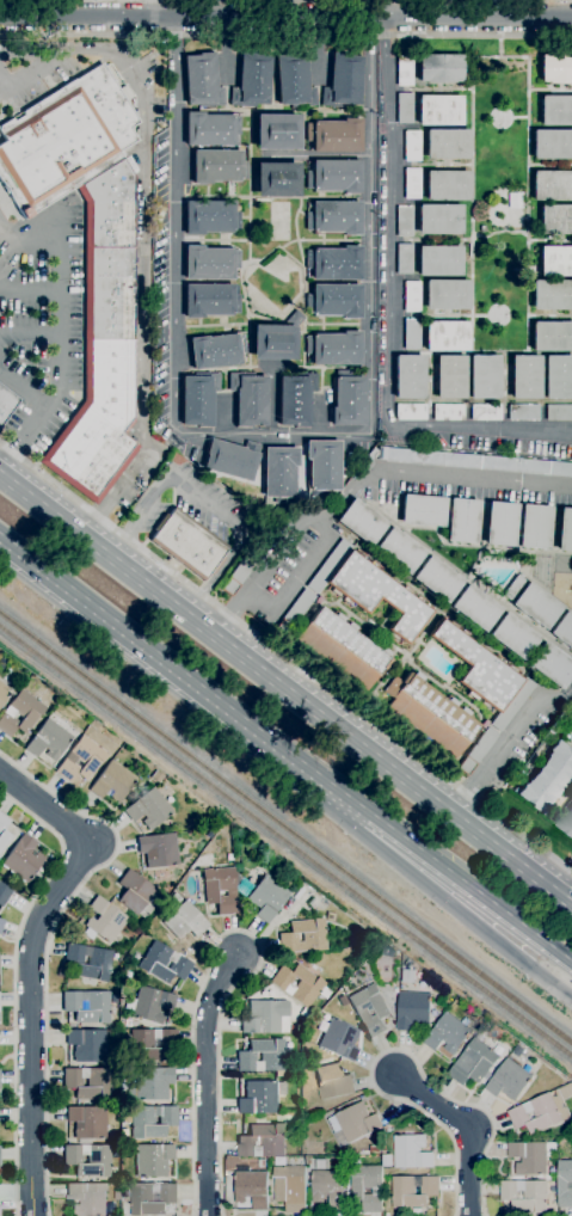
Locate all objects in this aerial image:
road: (205, 8)
road: (285, 18)
road: (285, 33)
building: (438, 68)
building: (555, 69)
building: (404, 70)
road: (30, 73)
building: (202, 81)
building: (251, 81)
building: (294, 81)
building: (343, 81)
building: (125, 93)
building: (404, 108)
building: (439, 111)
building: (555, 111)
building: (210, 129)
building: (276, 131)
building: (334, 136)
building: (63, 140)
building: (447, 145)
building: (552, 145)
building: (411, 146)
road: (316, 156)
building: (217, 166)
building: (334, 176)
building: (276, 180)
building: (411, 184)
building: (447, 185)
building: (552, 186)
building: (210, 217)
building: (334, 217)
building: (439, 220)
building: (555, 220)
building: (404, 221)
road: (370, 225)
road: (141, 239)
road: (29, 240)
building: (404, 259)
building: (439, 262)
building: (555, 262)
building: (210, 263)
building: (334, 263)
road: (30, 291)
building: (445, 295)
building: (552, 295)
building: (411, 296)
building: (209, 300)
building: (334, 301)
road: (390, 313)
parking lot: (41, 317)
road: (174, 319)
road: (30, 334)
building: (411, 334)
building: (447, 337)
building: (552, 337)
building: (275, 339)
building: (103, 342)
building: (333, 349)
building: (216, 351)
road: (60, 361)
building: (450, 376)
building: (408, 377)
building: (484, 377)
building: (525, 377)
building: (558, 377)
road: (24, 391)
building: (198, 399)
building: (248, 399)
building: (295, 399)
building: (347, 399)
building: (6, 404)
building: (411, 412)
building: (448, 412)
building: (485, 412)
building: (523, 412)
building: (559, 412)
building: (232, 459)
building: (472, 462)
building: (322, 467)
road: (430, 473)
building: (279, 474)
road: (202, 500)
building: (423, 510)
building: (462, 521)
building: (361, 522)
building: (500, 524)
building: (534, 527)
building: (565, 530)
building: (187, 543)
building: (399, 551)
road: (264, 575)
road: (299, 575)
building: (437, 579)
building: (513, 585)
building: (369, 590)
building: (536, 606)
building: (475, 608)
building: (294, 613)
road: (103, 619)
building: (564, 630)
building: (513, 637)
building: (342, 650)
road: (285, 657)
building: (551, 665)
building: (484, 674)
road: (285, 680)
building: (4, 692)
building: (20, 713)
building: (430, 713)
building: (484, 724)
road: (506, 736)
building: (48, 741)
building: (476, 751)
building: (81, 760)
building: (156, 776)
building: (547, 778)
building: (112, 781)
building: (149, 809)
building: (565, 822)
road: (389, 827)
railway: (285, 829)
building: (4, 831)
building: (211, 833)
railway: (285, 841)
building: (158, 849)
road: (385, 849)
building: (229, 856)
building: (24, 859)
building: (242, 886)
building: (220, 890)
building: (4, 893)
building: (135, 895)
building: (266, 898)
building: (103, 921)
building: (1, 923)
building: (185, 925)
road: (244, 933)
building: (303, 936)
road: (49, 940)
building: (352, 941)
building: (387, 951)
road: (31, 959)
building: (88, 962)
building: (164, 963)
building: (406, 964)
building: (407, 976)
road: (16, 983)
building: (299, 984)
building: (148, 1005)
building: (87, 1006)
building: (369, 1009)
building: (412, 1009)
building: (303, 1012)
building: (265, 1018)
building: (447, 1033)
building: (337, 1039)
building: (86, 1045)
building: (150, 1045)
road: (390, 1049)
building: (260, 1056)
building: (473, 1062)
road: (208, 1080)
building: (508, 1080)
building: (332, 1081)
building: (87, 1082)
building: (149, 1085)
building: (260, 1097)
building: (542, 1110)
building: (150, 1120)
building: (87, 1123)
building: (353, 1123)
road: (468, 1126)
building: (263, 1141)
building: (411, 1151)
building: (528, 1156)
building: (88, 1160)
building: (152, 1160)
building: (320, 1163)
building: (565, 1183)
building: (251, 1186)
building: (367, 1186)
building: (290, 1187)
building: (328, 1187)
building: (412, 1190)
building: (116, 1194)
building: (524, 1194)
building: (150, 1198)
building: (88, 1199)

